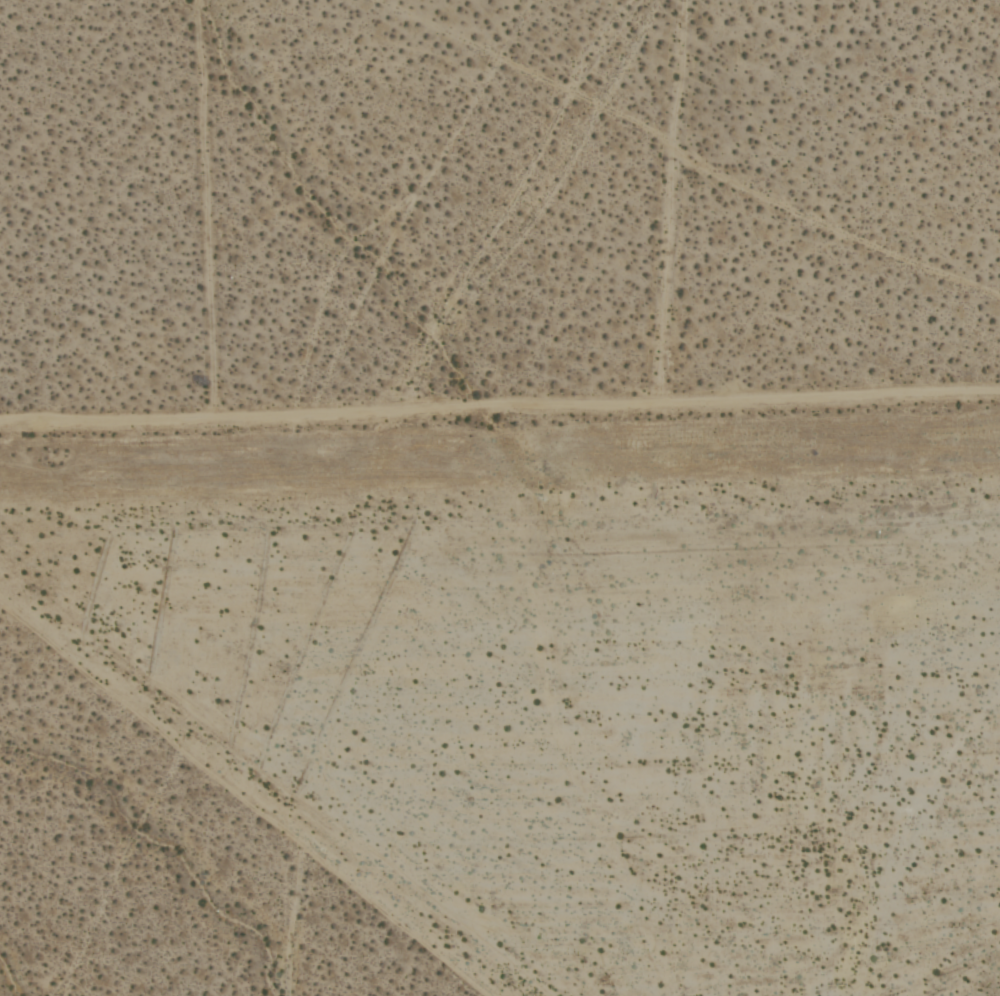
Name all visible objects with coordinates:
road: (499, 406)

